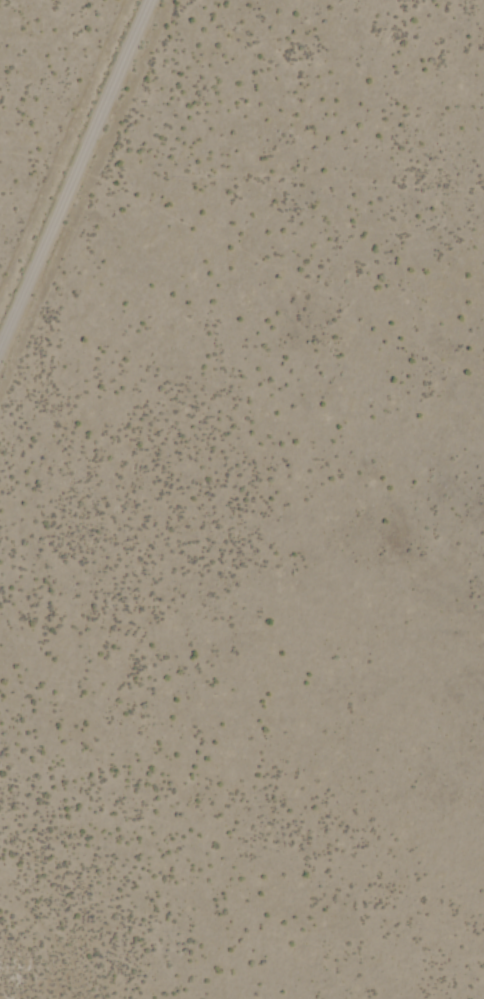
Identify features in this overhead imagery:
road: (77, 178)

